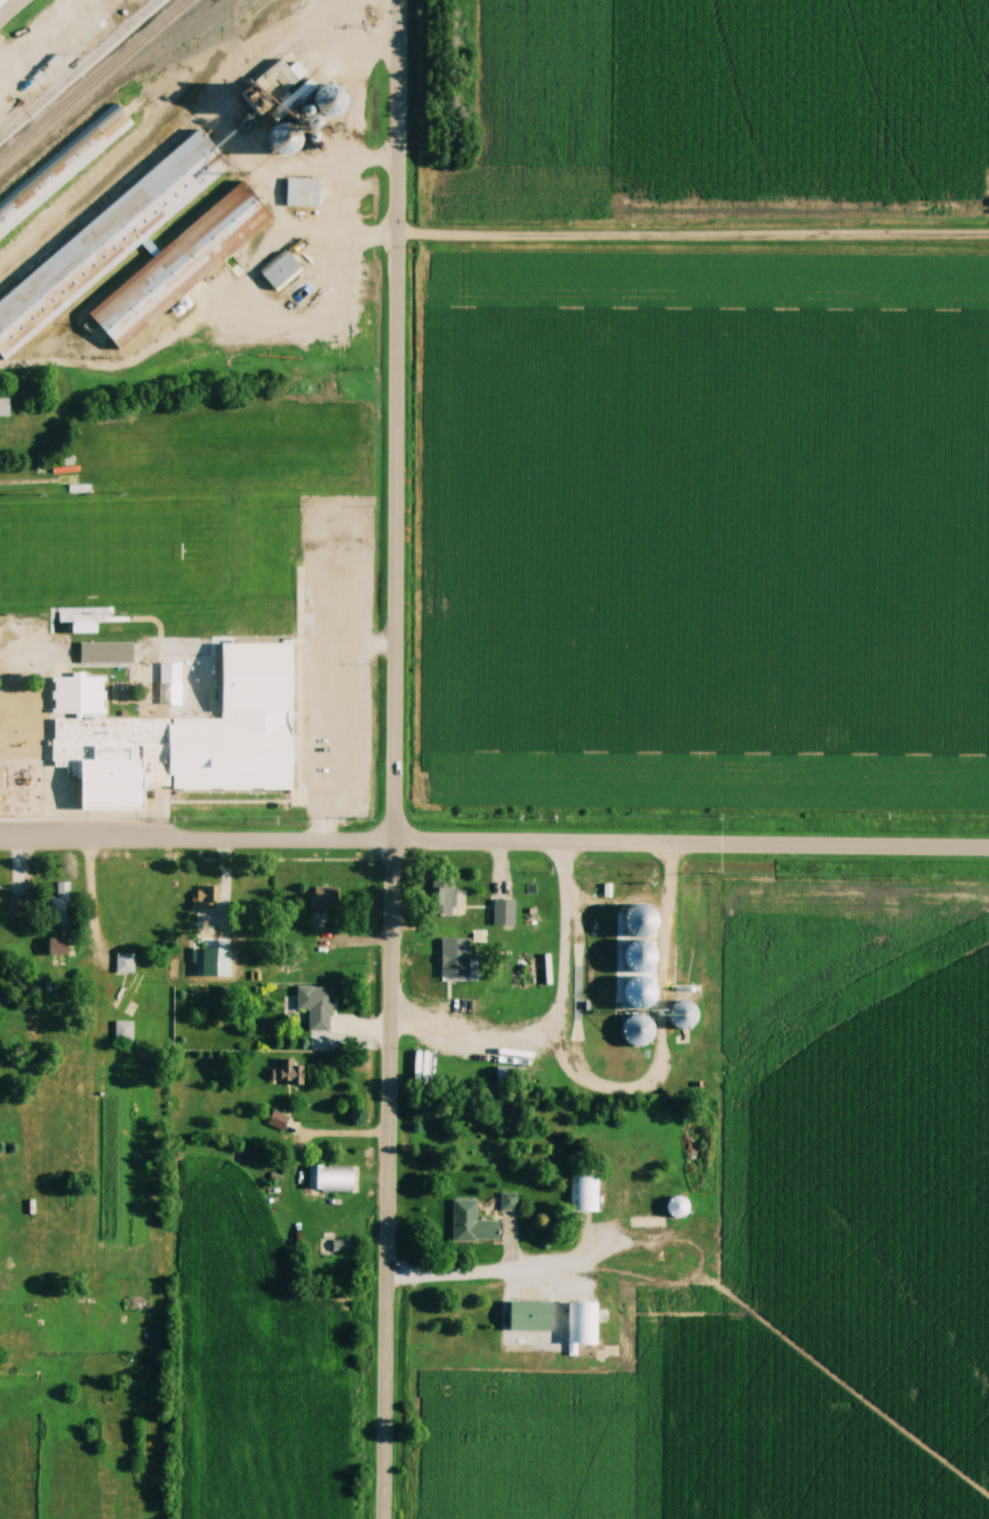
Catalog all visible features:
road: (9, 7)
building: (45, 60)
railway: (80, 70)
building: (283, 75)
railway: (93, 80)
building: (329, 92)
crop: (740, 99)
building: (294, 142)
building: (63, 166)
building: (303, 191)
road: (694, 235)
building: (106, 238)
building: (183, 263)
building: (281, 270)
road: (203, 311)
building: (4, 405)
road: (398, 422)
park: (113, 553)
building: (85, 627)
building: (107, 651)
road: (330, 673)
road: (197, 842)
road: (691, 844)
building: (446, 896)
building: (203, 897)
road: (96, 898)
building: (61, 902)
building: (322, 905)
building: (15, 906)
building: (503, 912)
building: (640, 955)
building: (455, 958)
building: (124, 962)
building: (641, 995)
building: (314, 1008)
building: (684, 1016)
road: (564, 1017)
building: (32, 1021)
building: (123, 1030)
building: (637, 1030)
road: (471, 1045)
building: (427, 1070)
building: (287, 1073)
building: (278, 1120)
building: (330, 1179)
road: (390, 1181)
building: (584, 1188)
building: (508, 1201)
building: (678, 1207)
building: (472, 1223)
crop: (799, 1247)
road: (475, 1273)
building: (136, 1307)
building: (531, 1315)
building: (582, 1322)
crop: (254, 1364)

